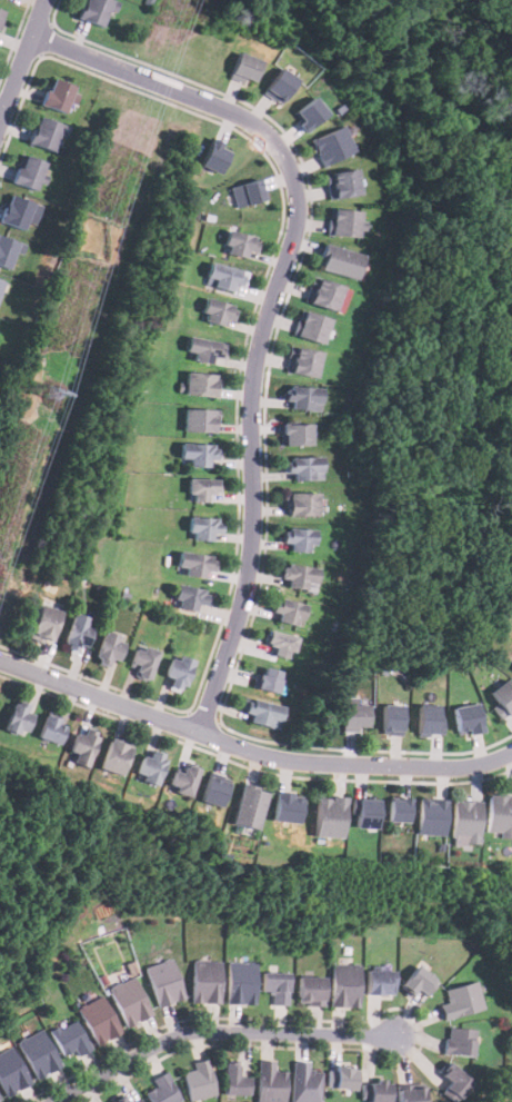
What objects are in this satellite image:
building: (92, 10)
building: (0, 12)
road: (21, 60)
building: (244, 67)
building: (279, 85)
building: (56, 95)
building: (310, 112)
road: (0, 117)
building: (44, 131)
building: (332, 145)
building: (213, 156)
building: (27, 171)
building: (341, 182)
building: (247, 192)
building: (13, 210)
building: (343, 221)
building: (239, 242)
building: (9, 250)
building: (339, 260)
building: (221, 276)
building: (0, 281)
building: (323, 292)
road: (270, 304)
building: (218, 310)
building: (311, 326)
building: (203, 349)
building: (302, 360)
building: (199, 383)
power tower: (51, 391)
building: (301, 397)
building: (198, 419)
building: (295, 433)
building: (197, 454)
building: (302, 466)
building: (202, 489)
building: (300, 503)
building: (203, 528)
building: (298, 538)
building: (193, 564)
building: (297, 575)
building: (189, 597)
building: (284, 610)
building: (43, 623)
building: (77, 631)
building: (278, 643)
building: (109, 647)
building: (141, 661)
building: (175, 672)
building: (265, 681)
building: (502, 698)
building: (259, 711)
building: (18, 716)
building: (352, 716)
building: (390, 718)
building: (429, 718)
building: (468, 718)
building: (51, 728)
building: (82, 745)
road: (250, 751)
building: (114, 756)
building: (149, 765)
building: (183, 778)
building: (211, 790)
building: (247, 806)
building: (283, 807)
building: (396, 810)
building: (364, 813)
building: (500, 814)
building: (328, 816)
building: (433, 816)
building: (466, 823)
building: (163, 981)
building: (205, 981)
building: (379, 981)
building: (418, 981)
building: (240, 982)
building: (274, 985)
building: (343, 985)
building: (309, 990)
building: (461, 999)
building: (128, 1001)
building: (97, 1019)
road: (215, 1031)
building: (69, 1038)
building: (459, 1041)
building: (37, 1053)
building: (10, 1072)
building: (341, 1076)
building: (199, 1080)
building: (234, 1080)
building: (453, 1082)
building: (270, 1083)
building: (304, 1083)
building: (162, 1090)
building: (375, 1091)
building: (410, 1092)
building: (0, 1099)
building: (119, 1100)
building: (137, 1101)

